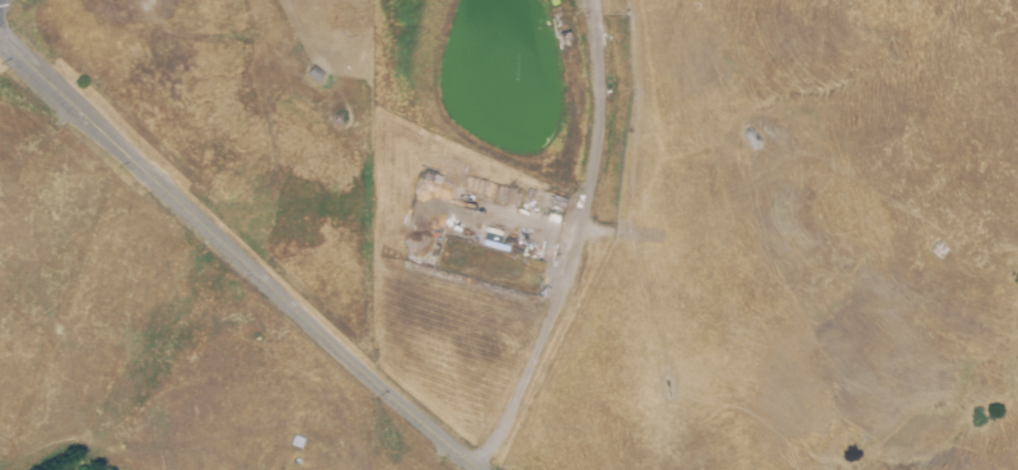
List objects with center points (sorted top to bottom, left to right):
building: (316, 76)
road: (506, 213)
road: (577, 242)
road: (241, 255)
building: (297, 442)

